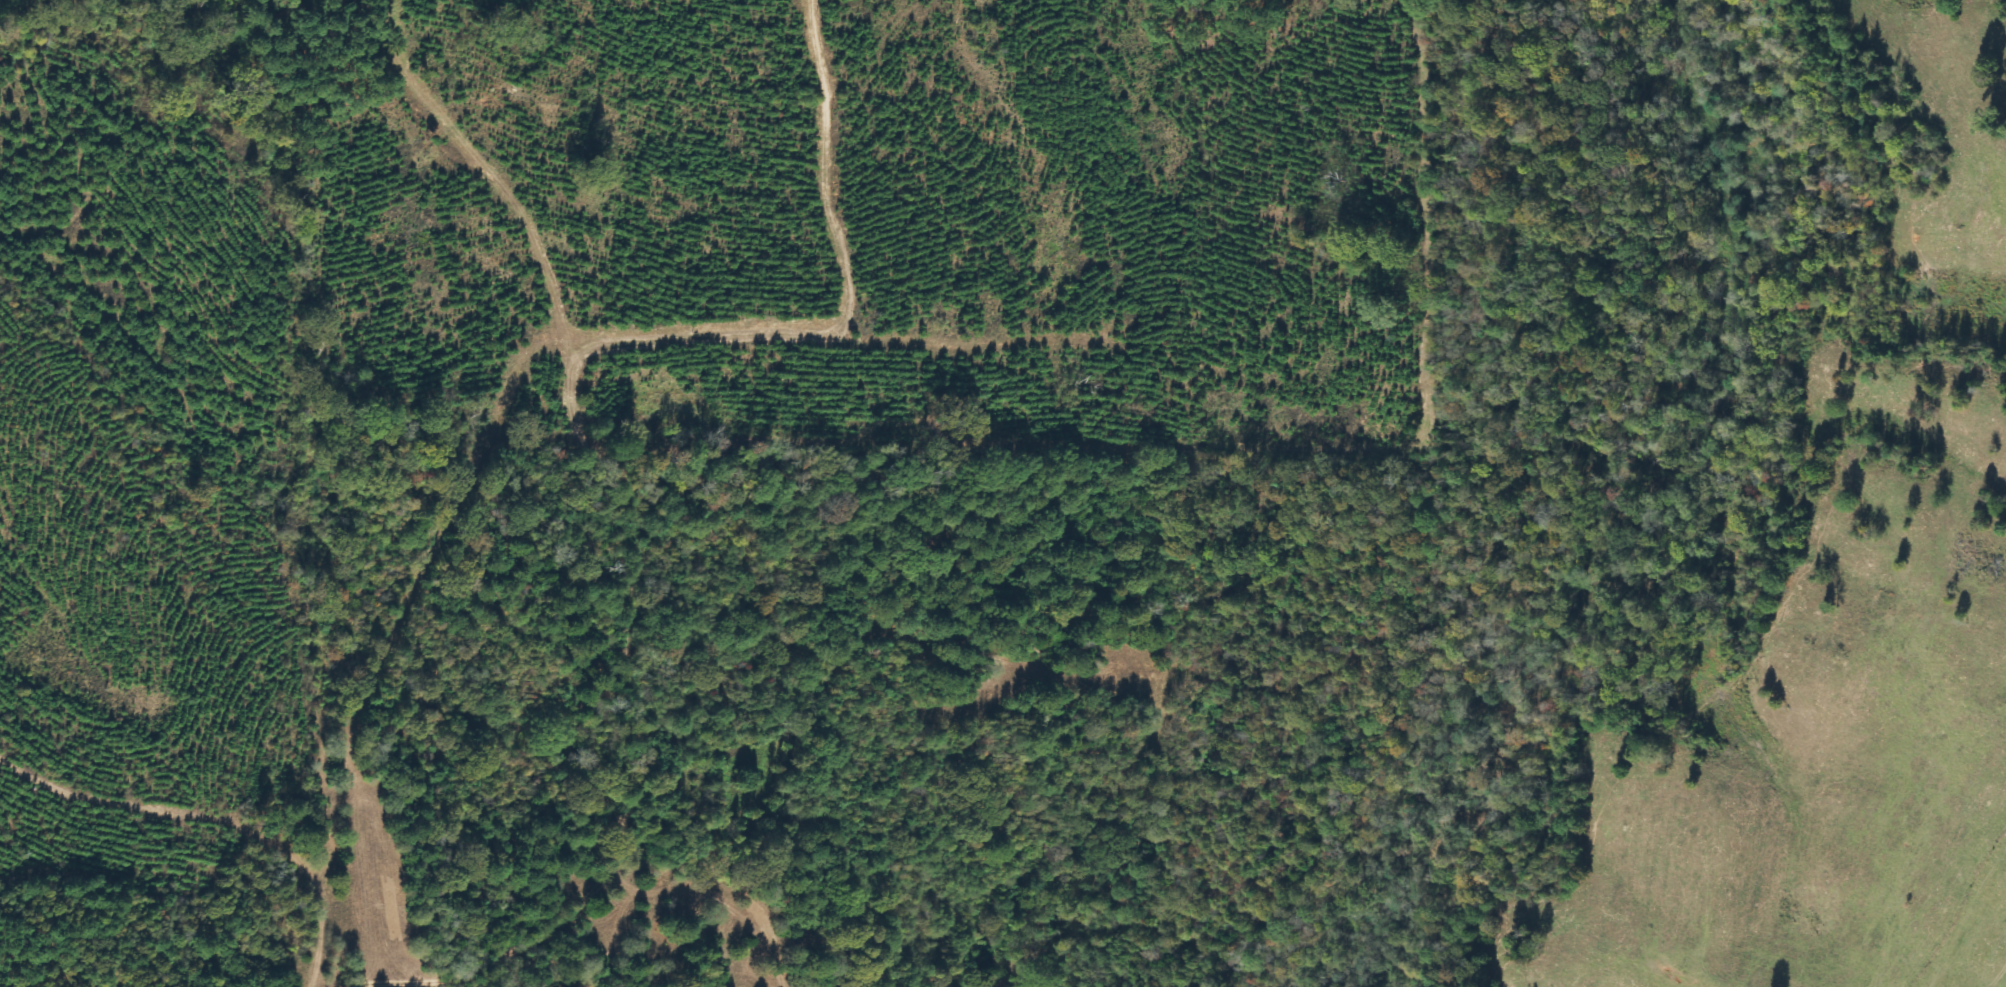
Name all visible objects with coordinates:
road: (739, 342)
road: (635, 538)

